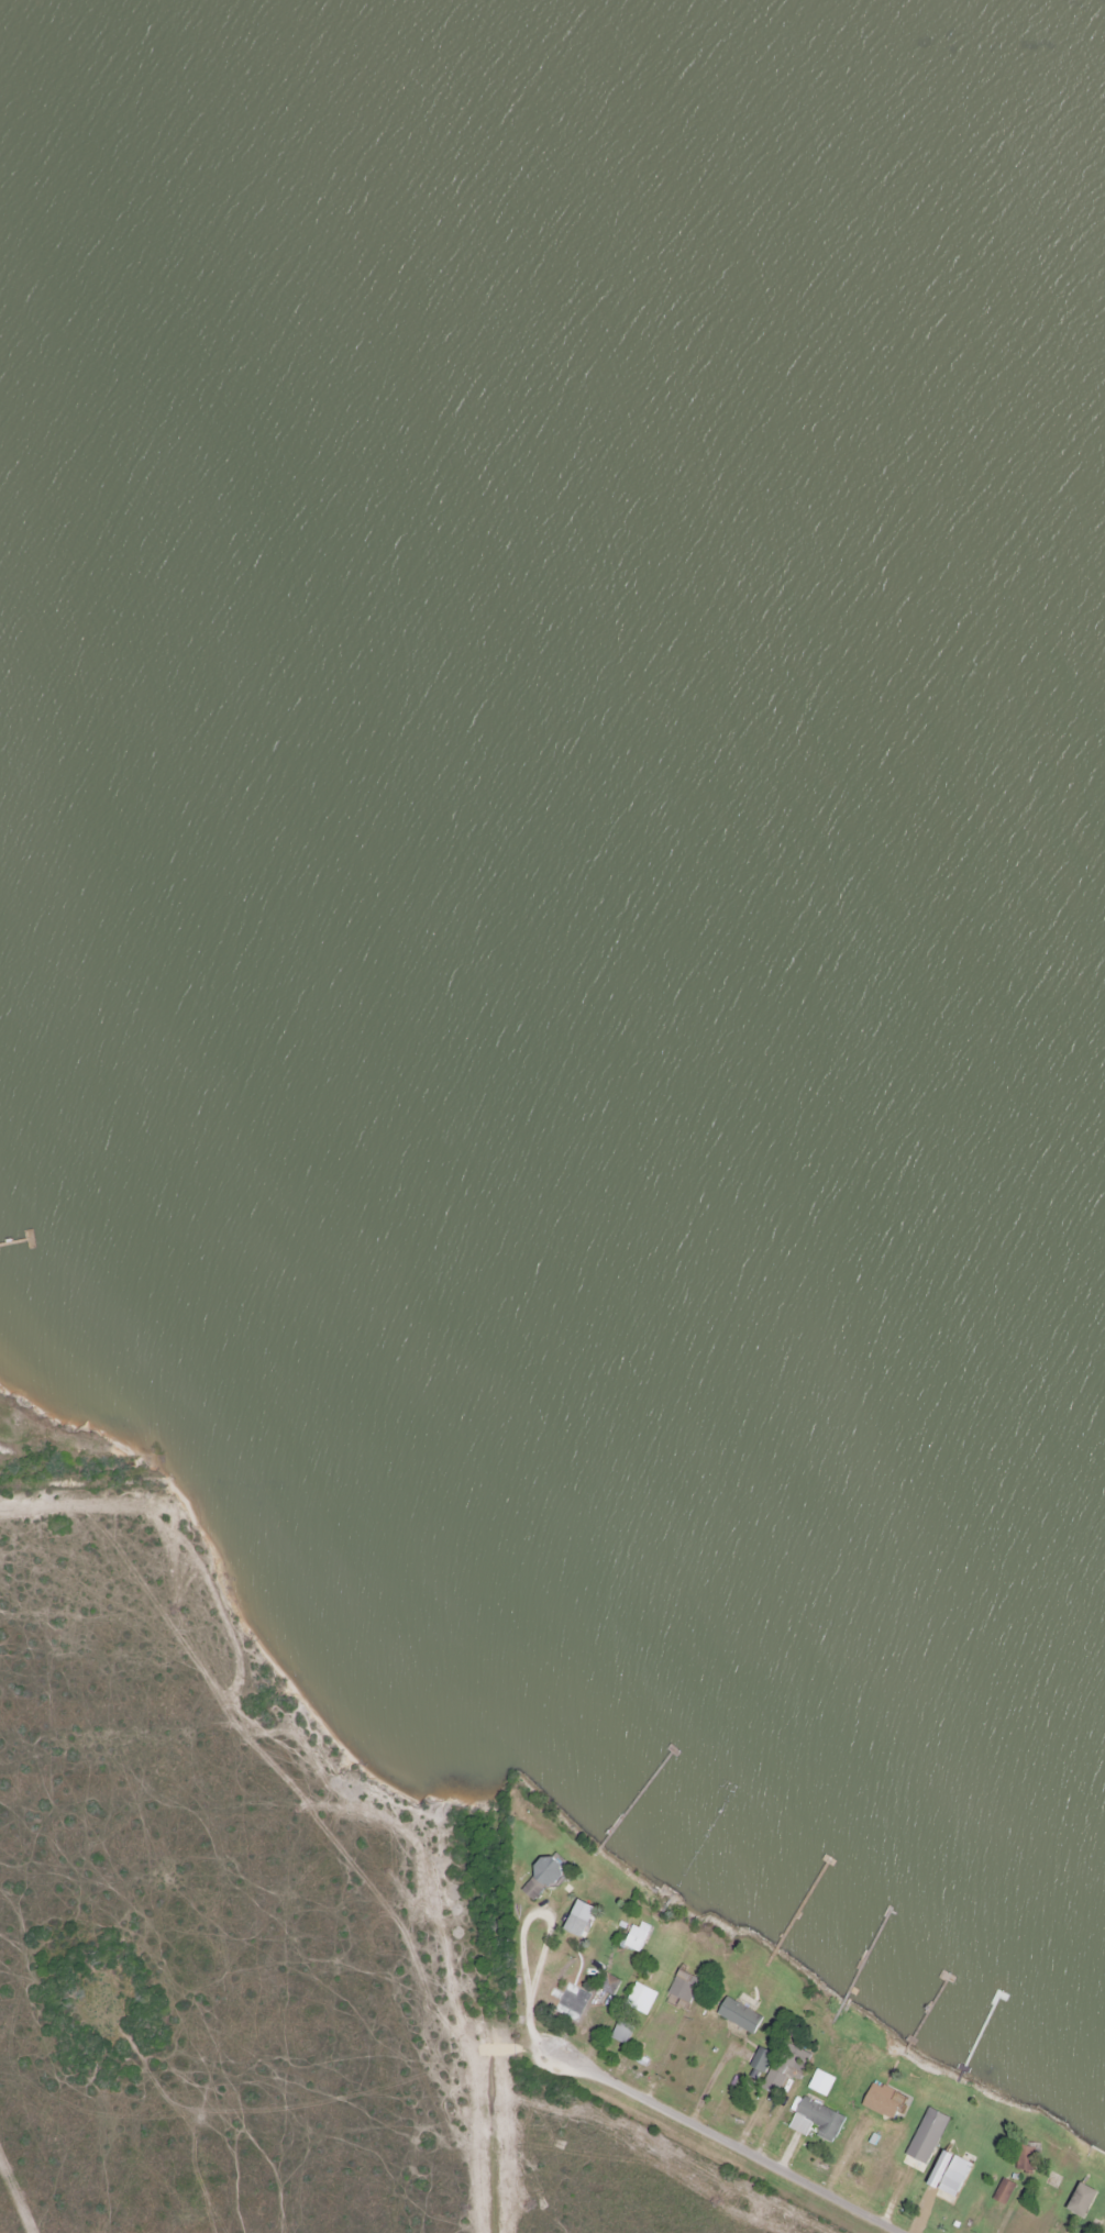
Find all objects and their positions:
pier: (637, 1798)
building: (546, 1877)
pier: (802, 1904)
building: (584, 1919)
building: (640, 1937)
pier: (868, 1956)
building: (612, 1986)
building: (686, 1987)
building: (643, 1999)
pier: (928, 2012)
building: (743, 2016)
building: (625, 2032)
pier: (981, 2032)
building: (764, 2060)
building: (789, 2070)
building: (886, 2102)
building: (819, 2121)
road: (731, 2137)
building: (1029, 2159)
building: (953, 2175)
building: (1006, 2191)
building: (1086, 2201)

